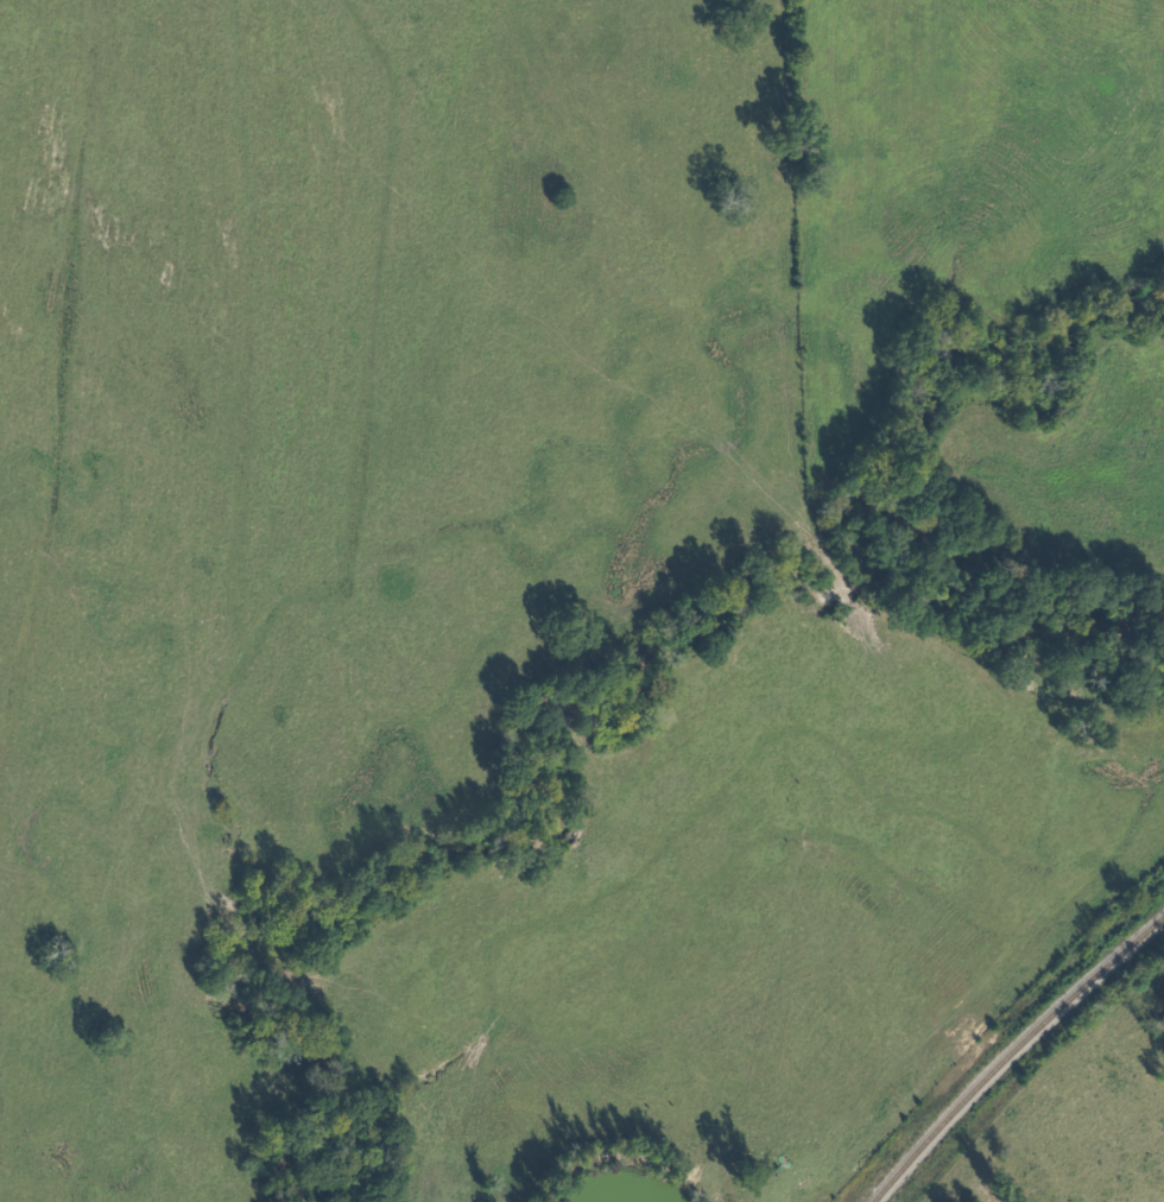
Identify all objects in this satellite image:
railway: (1008, 1049)

